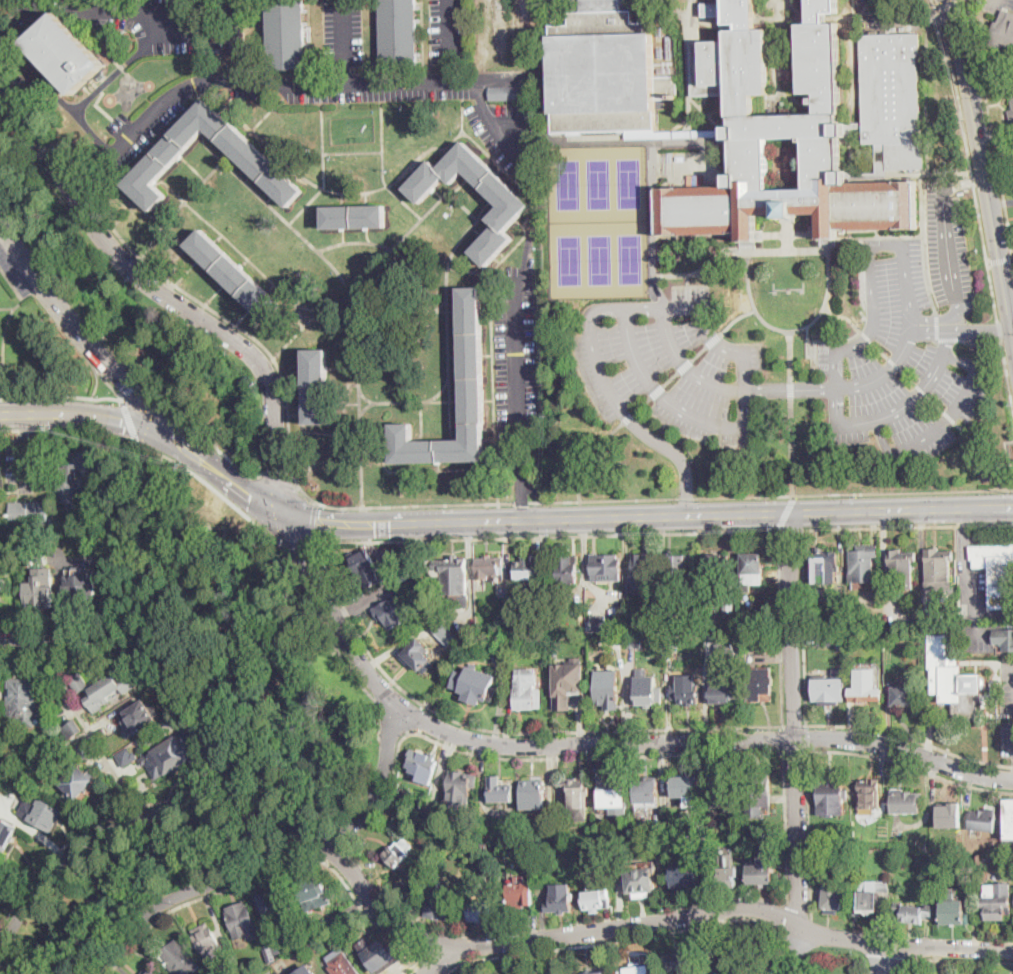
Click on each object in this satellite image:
road: (40, 0)
road: (950, 7)
road: (157, 12)
traffic signals: (954, 18)
road: (908, 20)
parking lot: (177, 23)
parking lot: (451, 31)
parking lot: (343, 33)
building: (399, 33)
building: (286, 35)
building: (1003, 35)
road: (346, 40)
road: (452, 40)
building: (65, 53)
road: (934, 57)
building: (605, 68)
road: (102, 84)
road: (480, 84)
building: (1009, 89)
parking lot: (351, 92)
building: (510, 93)
road: (925, 95)
building: (893, 97)
road: (438, 99)
road: (349, 101)
road: (185, 110)
building: (1011, 116)
road: (990, 119)
parking lot: (144, 124)
road: (171, 129)
building: (780, 129)
road: (249, 132)
parking lot: (504, 133)
road: (203, 135)
road: (56, 141)
road: (154, 147)
building: (1012, 147)
road: (353, 152)
building: (248, 153)
road: (271, 153)
road: (182, 157)
road: (983, 158)
road: (969, 160)
road: (495, 162)
road: (194, 169)
road: (498, 169)
road: (324, 171)
road: (942, 172)
road: (248, 176)
road: (933, 180)
road: (160, 181)
road: (460, 183)
road: (964, 183)
road: (83, 184)
road: (175, 191)
road: (439, 193)
road: (338, 194)
road: (270, 197)
road: (342, 200)
road: (366, 200)
road: (485, 204)
building: (514, 204)
road: (179, 207)
road: (145, 211)
building: (355, 217)
road: (422, 217)
park: (598, 221)
road: (520, 223)
road: (407, 233)
road: (881, 235)
road: (343, 236)
road: (218, 237)
road: (368, 239)
road: (310, 242)
road: (923, 242)
road: (505, 255)
road: (499, 261)
road: (1000, 261)
road: (244, 262)
road: (187, 270)
road: (470, 272)
parking lot: (13, 273)
building: (234, 274)
road: (953, 276)
road: (270, 287)
road: (168, 292)
flagpole: (776, 292)
flagpole: (789, 292)
flagpole: (802, 292)
road: (215, 293)
road: (297, 304)
road: (440, 305)
road: (13, 307)
road: (47, 307)
road: (455, 310)
road: (824, 310)
park: (134, 315)
road: (243, 316)
road: (739, 318)
road: (313, 320)
parking lot: (645, 320)
road: (937, 326)
road: (82, 330)
road: (980, 330)
road: (1000, 332)
road: (295, 337)
road: (948, 338)
road: (862, 340)
road: (976, 341)
road: (713, 343)
road: (593, 345)
road: (449, 352)
road: (456, 354)
road: (489, 354)
road: (494, 357)
road: (344, 367)
road: (1007, 370)
road: (293, 372)
road: (360, 372)
parking lot: (516, 374)
building: (473, 376)
road: (672, 377)
road: (97, 383)
traffic signals: (127, 383)
road: (133, 386)
building: (317, 387)
road: (654, 388)
road: (85, 396)
road: (490, 399)
road: (456, 400)
road: (439, 402)
road: (344, 403)
road: (406, 403)
road: (902, 407)
road: (366, 409)
road: (298, 412)
road: (791, 412)
road: (288, 413)
road: (300, 413)
road: (86, 414)
traffic signals: (122, 420)
road: (129, 421)
road: (421, 423)
road: (944, 423)
road: (23, 427)
road: (490, 427)
road: (8, 429)
road: (22, 429)
road: (199, 431)
traffic signals: (175, 436)
road: (490, 438)
road: (343, 439)
road: (25, 448)
road: (672, 452)
road: (986, 452)
road: (164, 453)
road: (587, 454)
road: (438, 466)
road: (993, 467)
road: (430, 469)
building: (70, 475)
road: (227, 476)
road: (278, 482)
traffic signals: (251, 495)
road: (481, 502)
road: (524, 505)
building: (27, 511)
road: (725, 512)
road: (785, 512)
road: (312, 522)
road: (361, 523)
traffic signals: (318, 526)
road: (906, 526)
road: (788, 528)
road: (544, 535)
road: (293, 541)
traffic signals: (300, 548)
road: (964, 560)
building: (677, 564)
building: (714, 564)
building: (863, 564)
building: (488, 566)
building: (604, 566)
building: (902, 566)
building: (366, 567)
building: (824, 567)
building: (567, 568)
building: (646, 568)
building: (529, 569)
building: (752, 569)
building: (939, 569)
building: (996, 572)
parking lot: (971, 577)
building: (39, 578)
building: (452, 580)
building: (421, 584)
building: (4, 585)
building: (80, 588)
building: (729, 606)
building: (393, 612)
building: (673, 613)
road: (993, 613)
building: (917, 614)
building: (837, 615)
road: (183, 620)
park: (233, 622)
building: (605, 622)
building: (443, 623)
road: (803, 625)
road: (781, 627)
road: (316, 632)
building: (890, 632)
parking lot: (976, 634)
building: (747, 637)
building: (827, 638)
building: (1004, 639)
building: (672, 641)
building: (634, 642)
building: (502, 644)
building: (726, 649)
building: (554, 651)
road: (271, 653)
building: (419, 655)
building: (951, 678)
building: (567, 682)
building: (475, 685)
building: (759, 685)
building: (606, 686)
building: (865, 687)
building: (104, 688)
building: (1, 689)
building: (527, 690)
building: (830, 690)
building: (723, 692)
building: (685, 694)
building: (648, 695)
building: (903, 695)
building: (22, 698)
parking lot: (1007, 705)
building: (141, 716)
road: (259, 718)
road: (793, 720)
road: (795, 724)
road: (89, 726)
building: (72, 730)
building: (102, 731)
road: (501, 731)
road: (911, 736)
road: (304, 737)
road: (784, 738)
road: (595, 743)
road: (808, 749)
road: (48, 751)
building: (86, 751)
building: (171, 755)
road: (571, 756)
building: (126, 757)
road: (219, 762)
building: (423, 765)
road: (911, 765)
building: (77, 783)
building: (461, 783)
building: (758, 789)
building: (500, 790)
building: (533, 790)
building: (648, 790)
building: (687, 790)
building: (612, 792)
building: (724, 792)
building: (869, 794)
building: (0, 795)
building: (578, 796)
building: (831, 796)
building: (905, 801)
building: (760, 804)
building: (431, 808)
building: (42, 812)
building: (658, 816)
building: (949, 817)
building: (1009, 818)
building: (983, 820)
road: (787, 825)
road: (109, 829)
building: (6, 834)
road: (809, 835)
building: (399, 852)
building: (979, 858)
road: (273, 863)
building: (762, 872)
building: (688, 875)
building: (727, 877)
park: (136, 879)
building: (642, 887)
building: (496, 891)
building: (521, 892)
building: (312, 894)
building: (872, 895)
building: (832, 897)
building: (594, 898)
building: (560, 899)
building: (442, 903)
building: (277, 904)
building: (997, 906)
building: (953, 910)
building: (481, 912)
building: (914, 912)
building: (243, 921)
building: (319, 927)
road: (634, 937)
building: (207, 941)
road: (442, 942)
building: (281, 945)
building: (312, 947)
road: (795, 952)
building: (379, 956)
building: (181, 959)
road: (889, 959)
road: (969, 960)
road: (441, 961)
road: (443, 961)
building: (229, 962)
road: (417, 962)
building: (680, 962)
building: (736, 964)
park: (835, 964)
building: (343, 965)
road: (913, 965)
building: (639, 968)
road: (12, 970)
building: (149, 971)
building: (306, 971)
building: (598, 973)

